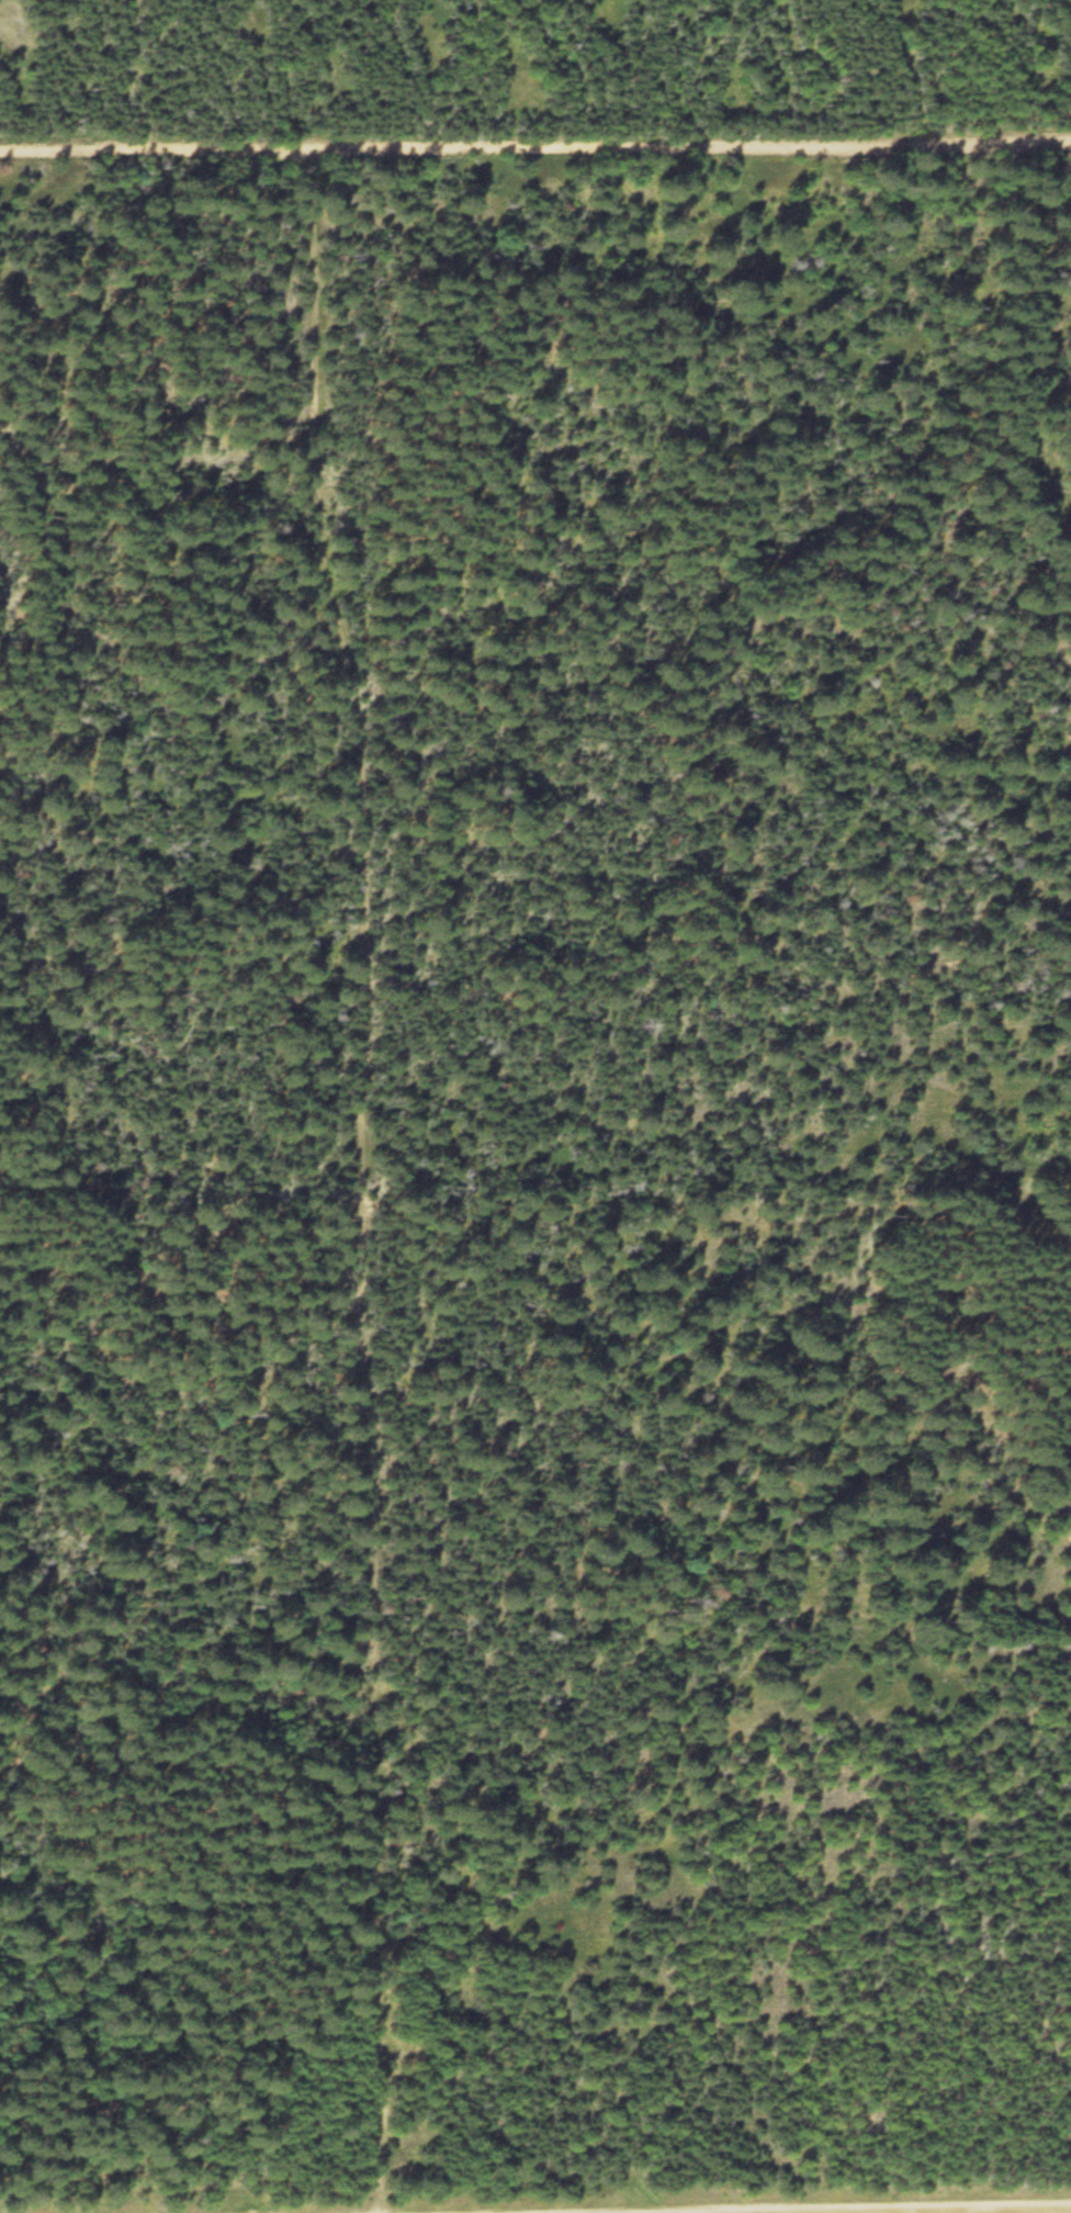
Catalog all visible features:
road: (535, 155)
road: (352, 1186)

